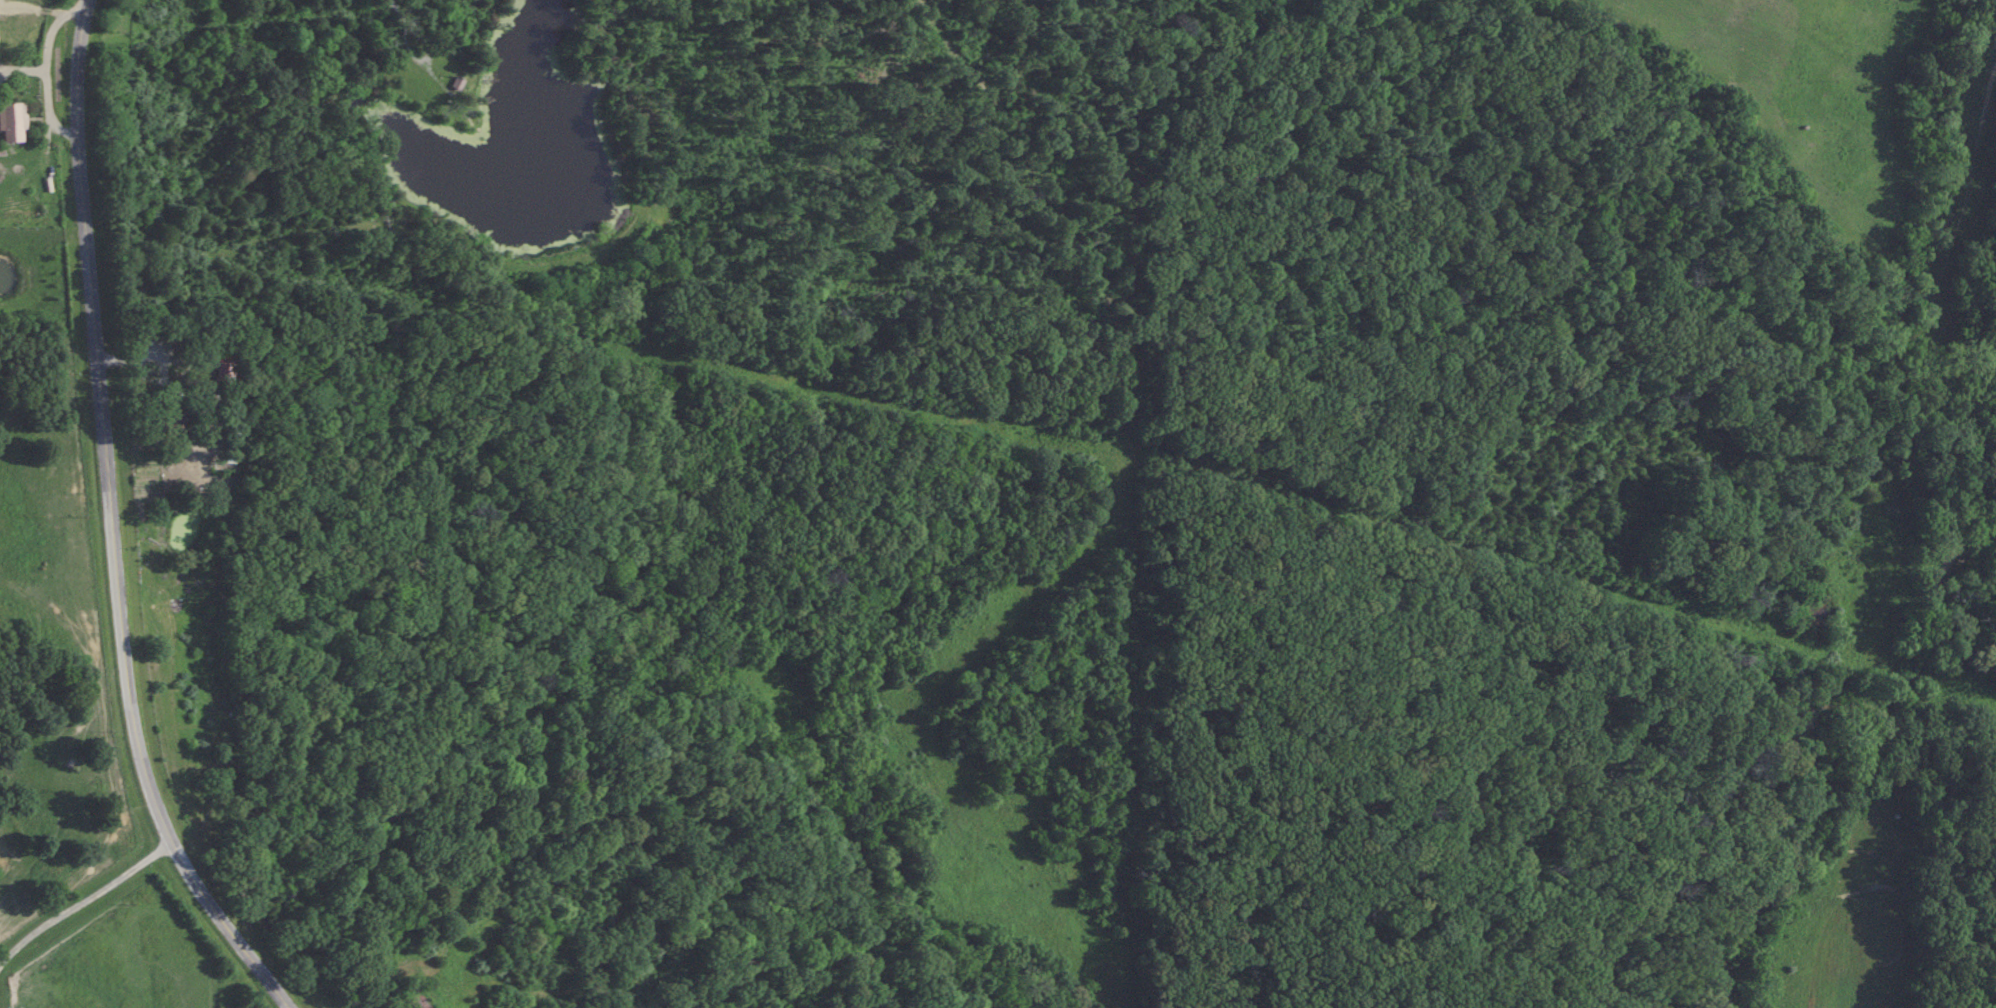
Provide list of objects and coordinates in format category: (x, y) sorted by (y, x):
road: (43, 68)
road: (21, 71)
building: (11, 122)
building: (221, 371)
road: (112, 525)
road: (84, 902)
building: (413, 998)

